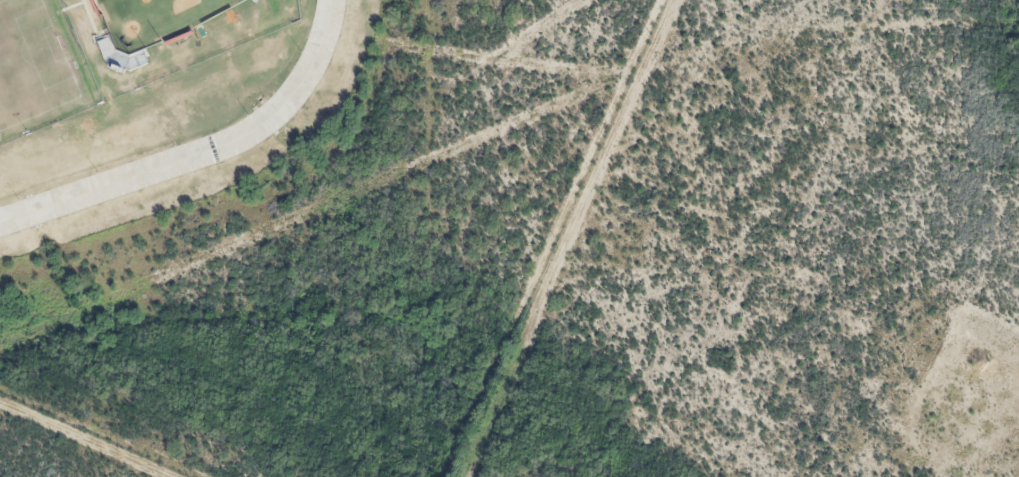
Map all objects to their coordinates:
stadium: (151, 19)
park: (31, 64)
road: (201, 152)

